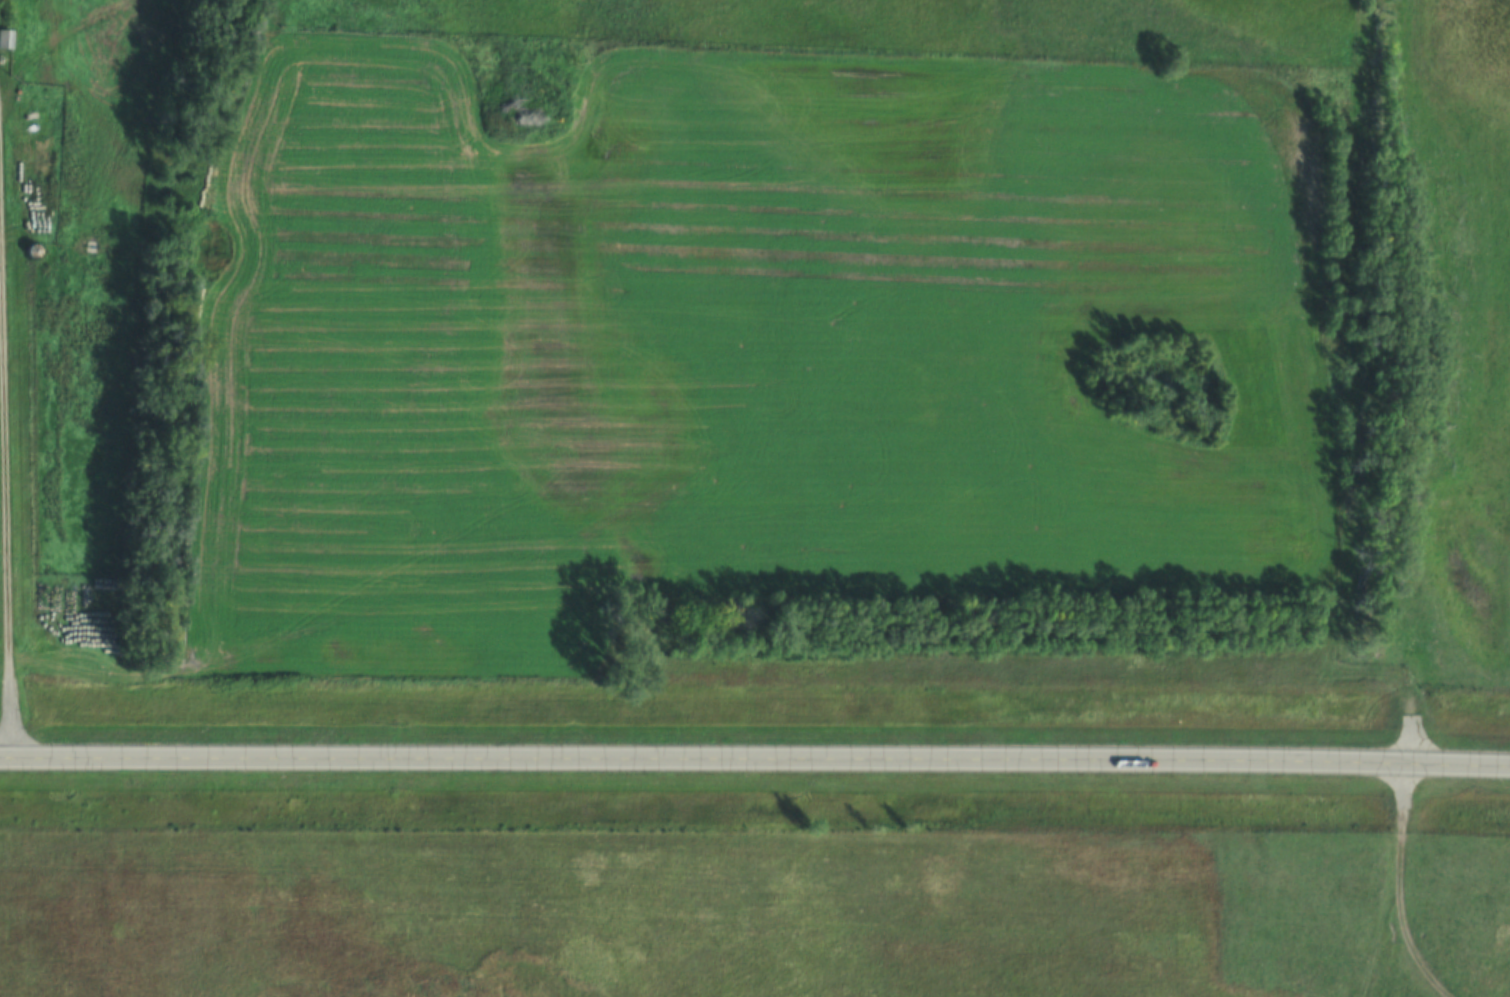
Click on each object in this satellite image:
building: (4, 52)
road: (6, 81)
road: (2, 101)
building: (30, 265)
silo: (30, 265)
road: (12, 431)
road: (755, 760)
road: (1412, 810)

